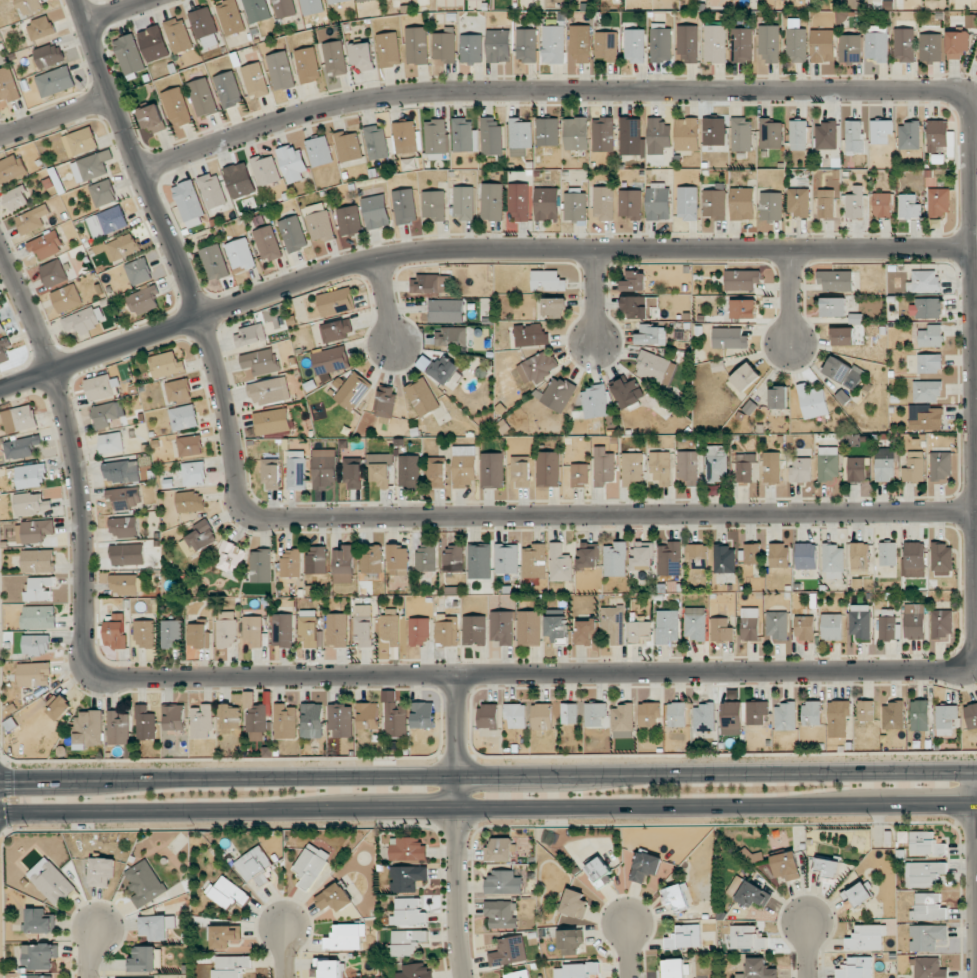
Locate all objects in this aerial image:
building: (362, 0)
building: (336, 1)
building: (31, 6)
building: (311, 6)
building: (284, 8)
building: (257, 10)
road: (112, 11)
building: (230, 17)
building: (205, 27)
building: (40, 28)
building: (178, 35)
park: (1, 40)
building: (796, 42)
building: (153, 43)
building: (579, 43)
building: (661, 43)
building: (715, 43)
building: (876, 43)
building: (553, 44)
building: (687, 44)
building: (742, 44)
building: (769, 44)
building: (957, 44)
building: (417, 45)
building: (444, 45)
building: (526, 45)
building: (607, 45)
building: (634, 45)
building: (822, 45)
building: (904, 45)
building: (498, 46)
building: (931, 47)
building: (471, 48)
building: (850, 48)
building: (388, 49)
building: (129, 54)
building: (49, 55)
building: (362, 55)
building: (335, 58)
building: (976, 60)
building: (308, 65)
building: (281, 70)
building: (255, 80)
building: (55, 81)
building: (8, 85)
building: (228, 89)
road: (543, 95)
building: (202, 97)
building: (177, 107)
road: (53, 116)
building: (152, 118)
building: (881, 131)
building: (547, 132)
building: (576, 133)
building: (714, 133)
building: (770, 133)
building: (462, 134)
building: (603, 134)
building: (687, 134)
building: (741, 134)
building: (937, 134)
building: (798, 135)
building: (826, 135)
building: (909, 135)
building: (520, 136)
building: (630, 136)
building: (658, 136)
building: (854, 136)
building: (405, 137)
building: (491, 137)
building: (435, 139)
building: (951, 140)
building: (80, 141)
building: (376, 142)
building: (348, 146)
building: (319, 151)
building: (293, 164)
building: (94, 165)
building: (11, 168)
building: (266, 170)
building: (240, 179)
building: (212, 190)
building: (103, 193)
building: (16, 198)
building: (492, 201)
building: (658, 201)
building: (798, 201)
building: (938, 201)
building: (188, 202)
building: (519, 202)
building: (463, 203)
building: (603, 203)
building: (630, 203)
building: (687, 203)
building: (742, 203)
building: (826, 203)
building: (855, 203)
building: (546, 204)
building: (714, 204)
building: (433, 205)
building: (575, 205)
building: (882, 205)
building: (404, 206)
building: (771, 206)
building: (909, 206)
building: (376, 211)
building: (32, 219)
building: (349, 220)
building: (107, 221)
building: (319, 222)
building: (293, 234)
building: (267, 243)
building: (46, 245)
building: (118, 247)
road: (472, 249)
building: (240, 254)
road: (177, 258)
building: (215, 262)
building: (140, 271)
building: (54, 273)
building: (742, 280)
building: (836, 280)
building: (547, 281)
building: (633, 281)
building: (924, 281)
building: (431, 283)
road: (593, 297)
building: (66, 298)
road: (789, 298)
building: (143, 300)
building: (336, 301)
road: (385, 302)
building: (833, 306)
building: (554, 307)
building: (636, 307)
building: (743, 308)
building: (926, 308)
building: (446, 310)
building: (84, 319)
building: (1, 327)
building: (336, 330)
building: (650, 333)
building: (530, 334)
building: (250, 335)
building: (452, 336)
building: (842, 336)
building: (931, 336)
building: (729, 338)
road: (971, 348)
building: (4, 349)
building: (331, 360)
building: (261, 361)
building: (930, 363)
building: (166, 364)
building: (656, 366)
building: (537, 367)
building: (439, 368)
building: (843, 372)
building: (745, 376)
building: (99, 387)
building: (178, 390)
building: (269, 391)
building: (352, 391)
building: (627, 391)
building: (926, 391)
building: (558, 393)
building: (422, 397)
building: (778, 397)
building: (596, 401)
building: (385, 402)
building: (812, 402)
building: (105, 414)
building: (184, 417)
building: (19, 418)
building: (927, 419)
building: (272, 421)
building: (111, 442)
building: (190, 445)
building: (22, 446)
building: (716, 463)
building: (828, 463)
building: (885, 464)
building: (464, 466)
building: (604, 466)
building: (660, 467)
building: (688, 467)
building: (745, 467)
building: (771, 467)
building: (914, 467)
building: (940, 467)
building: (324, 468)
building: (380, 469)
building: (548, 469)
building: (632, 469)
building: (801, 469)
building: (856, 469)
building: (296, 470)
building: (409, 470)
building: (492, 470)
building: (121, 471)
building: (522, 471)
building: (437, 472)
building: (194, 473)
building: (271, 473)
building: (353, 473)
building: (579, 475)
building: (30, 476)
building: (125, 497)
building: (190, 501)
building: (32, 504)
road: (615, 518)
building: (124, 527)
building: (33, 531)
building: (198, 539)
building: (750, 553)
building: (887, 553)
building: (127, 554)
building: (642, 555)
building: (698, 555)
building: (779, 555)
building: (589, 556)
building: (806, 556)
building: (426, 557)
building: (859, 557)
building: (231, 558)
building: (453, 558)
building: (506, 558)
building: (399, 559)
building: (615, 559)
building: (724, 559)
building: (915, 559)
building: (942, 559)
building: (37, 560)
building: (317, 560)
building: (670, 560)
building: (534, 561)
building: (833, 561)
building: (479, 562)
building: (291, 563)
building: (560, 563)
building: (343, 564)
building: (260, 566)
building: (123, 584)
building: (40, 589)
building: (38, 617)
building: (859, 621)
building: (914, 621)
building: (613, 623)
building: (694, 623)
building: (749, 624)
building: (777, 624)
building: (941, 624)
building: (363, 625)
building: (888, 625)
building: (667, 626)
building: (832, 626)
building: (502, 627)
building: (390, 628)
building: (529, 628)
building: (804, 628)
building: (226, 629)
building: (336, 629)
building: (474, 629)
building: (556, 629)
building: (253, 630)
building: (282, 630)
building: (309, 630)
building: (447, 630)
building: (721, 630)
building: (116, 631)
building: (419, 631)
building: (639, 631)
building: (586, 632)
building: (145, 634)
building: (171, 634)
building: (198, 635)
building: (36, 644)
road: (975, 663)
building: (34, 674)
road: (314, 678)
building: (60, 707)
building: (866, 710)
building: (756, 712)
building: (838, 712)
building: (569, 713)
building: (812, 713)
building: (423, 714)
building: (649, 714)
building: (677, 714)
building: (368, 715)
building: (515, 715)
building: (596, 715)
building: (893, 715)
building: (919, 715)
building: (971, 715)
building: (394, 716)
building: (488, 716)
building: (542, 716)
building: (785, 716)
building: (174, 717)
building: (230, 717)
building: (255, 717)
building: (704, 717)
building: (731, 718)
building: (622, 719)
building: (946, 719)
building: (341, 720)
building: (285, 721)
building: (312, 721)
building: (202, 722)
building: (145, 723)
building: (118, 728)
building: (89, 729)
road: (488, 780)
traffic signals: (14, 784)
road: (488, 809)
road: (455, 827)
building: (925, 844)
building: (407, 849)
building: (499, 850)
building: (255, 865)
building: (311, 865)
building: (645, 866)
building: (786, 866)
building: (826, 866)
building: (101, 871)
building: (599, 873)
building: (924, 873)
road: (974, 875)
building: (407, 878)
building: (50, 881)
building: (144, 883)
building: (503, 883)
building: (227, 893)
building: (857, 894)
building: (753, 895)
building: (678, 897)
building: (334, 898)
building: (575, 904)
building: (928, 907)
building: (408, 912)
building: (501, 914)
building: (40, 921)
building: (156, 926)
building: (224, 936)
building: (345, 937)
building: (685, 937)
building: (866, 937)
building: (927, 937)
building: (746, 938)
building: (569, 941)
building: (408, 942)
road: (805, 950)
road: (281, 951)
building: (508, 951)
road: (623, 951)
road: (90, 952)
building: (143, 959)
building: (231, 966)
building: (329, 968)
building: (674, 968)
building: (857, 968)
building: (928, 968)
building: (758, 969)
building: (575, 970)
building: (416, 971)
building: (517, 974)
building: (37, 976)
building: (140, 977)

